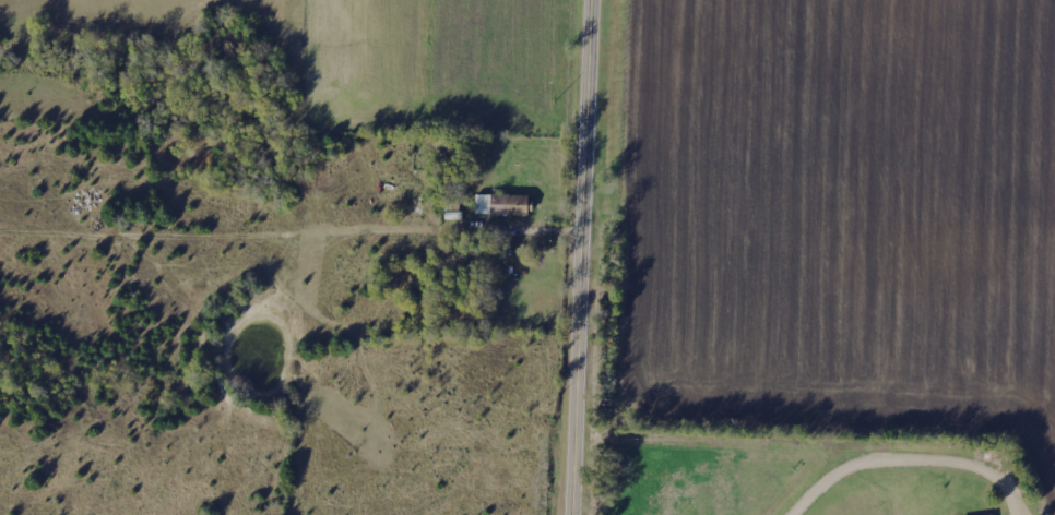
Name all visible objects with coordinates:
road: (584, 257)

